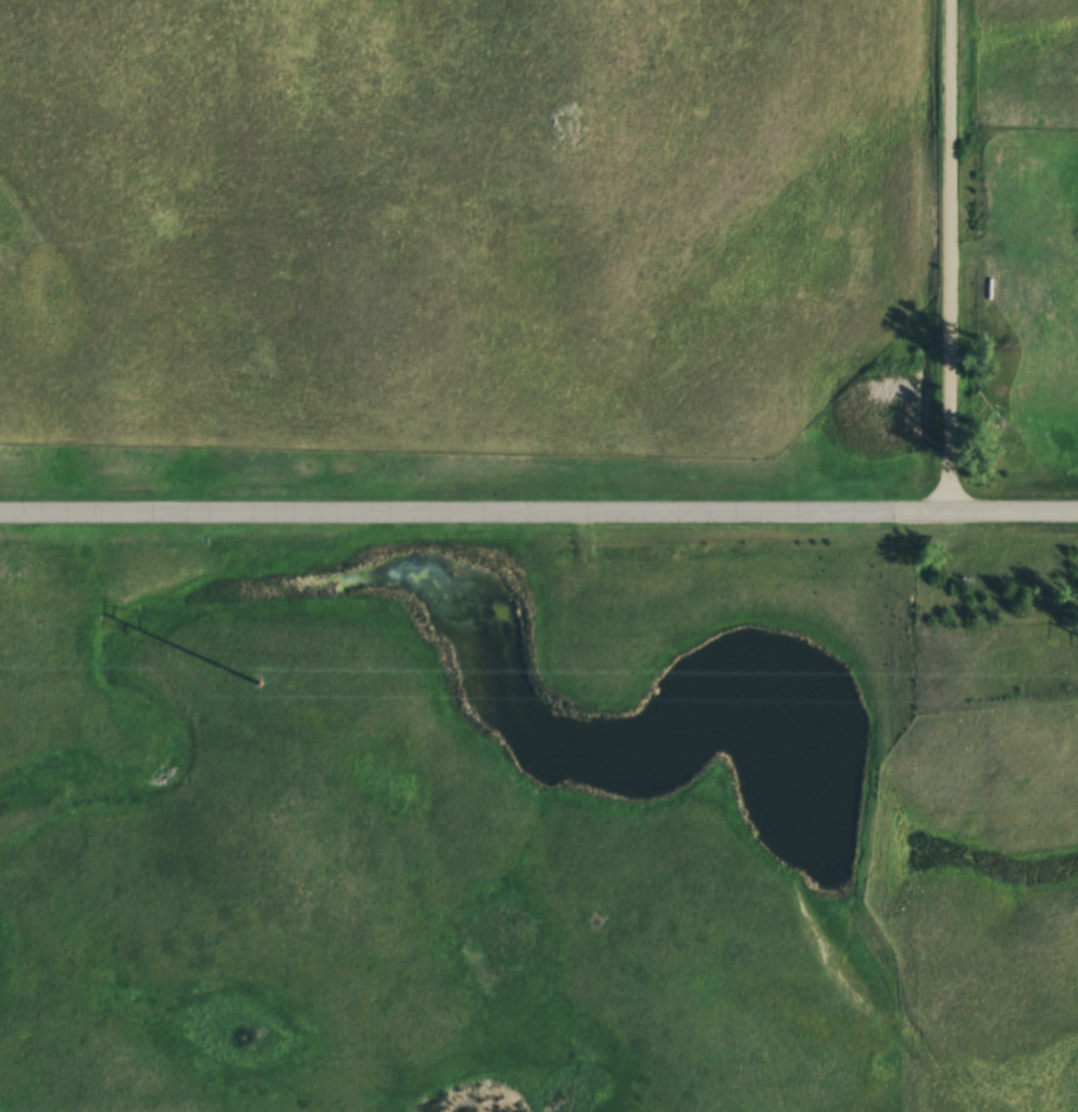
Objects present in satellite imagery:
road: (957, 259)
road: (539, 518)
power tower: (263, 682)
river: (688, 734)

